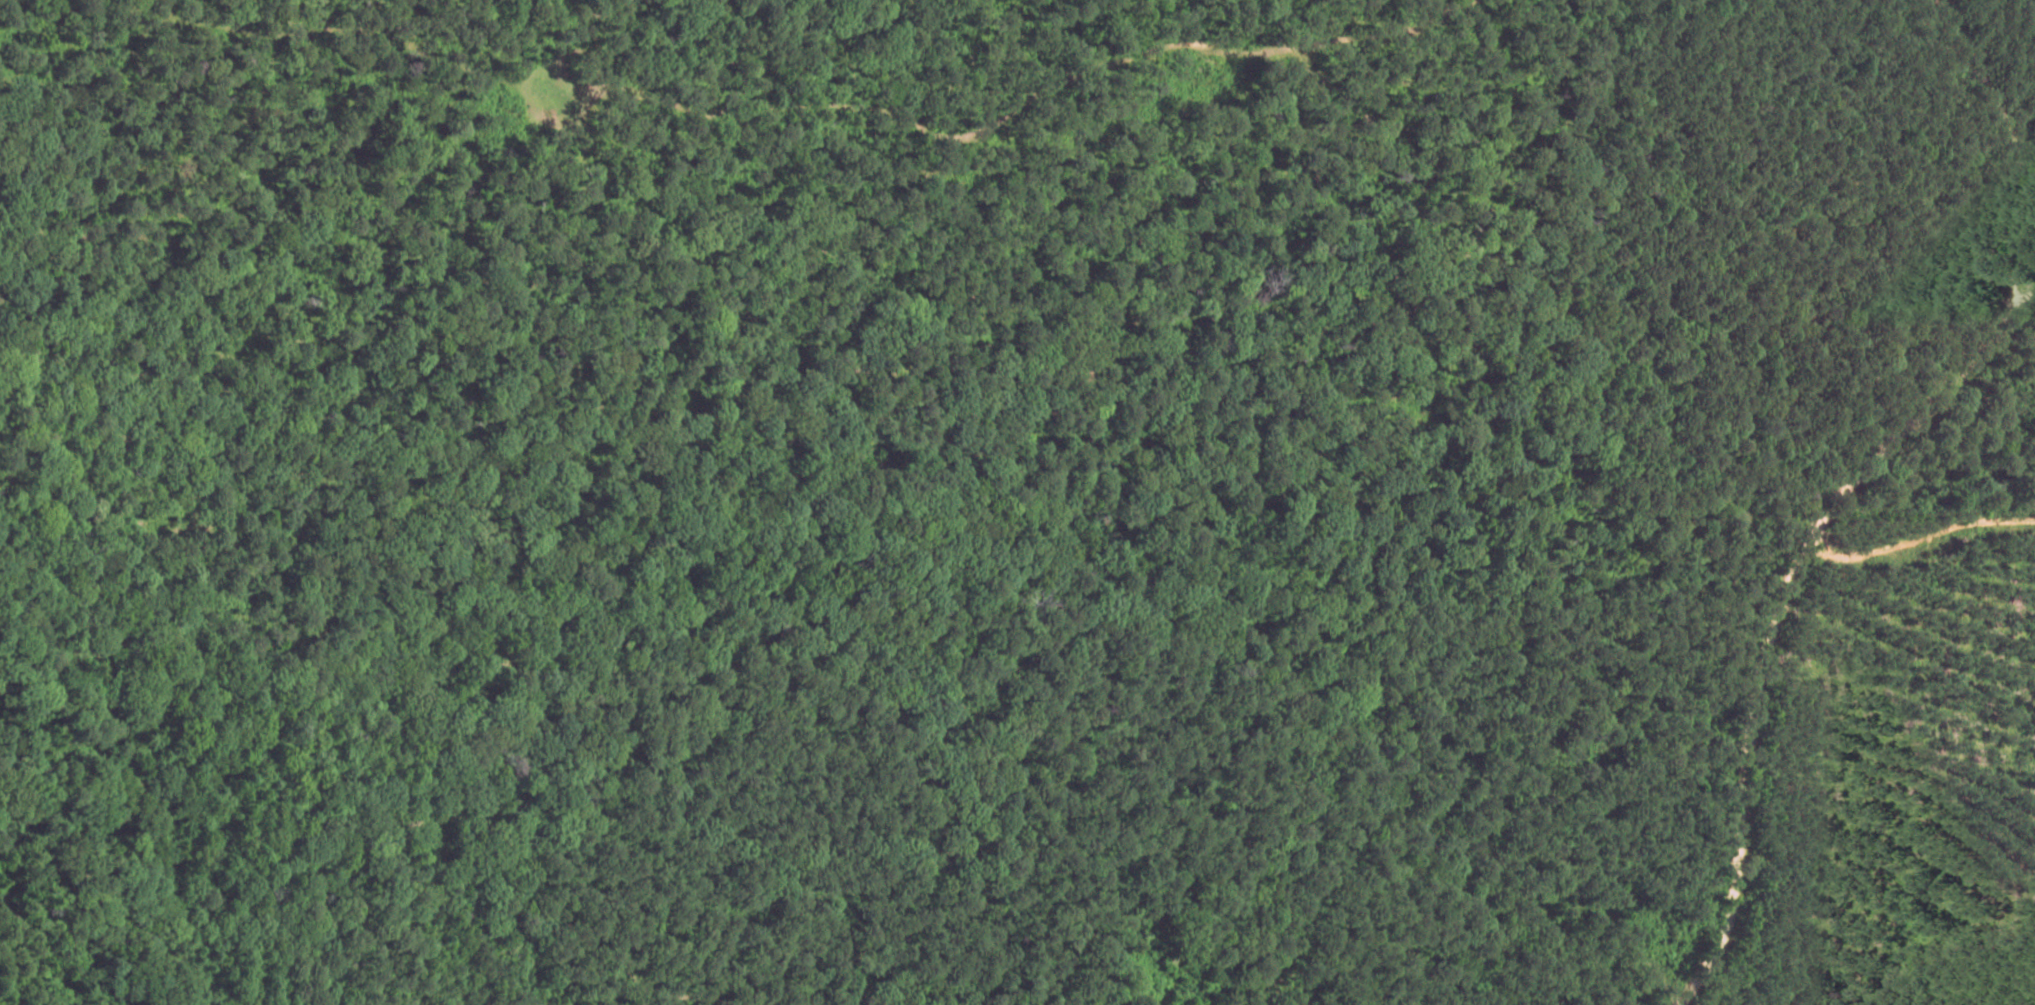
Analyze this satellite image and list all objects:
road: (1812, 632)

